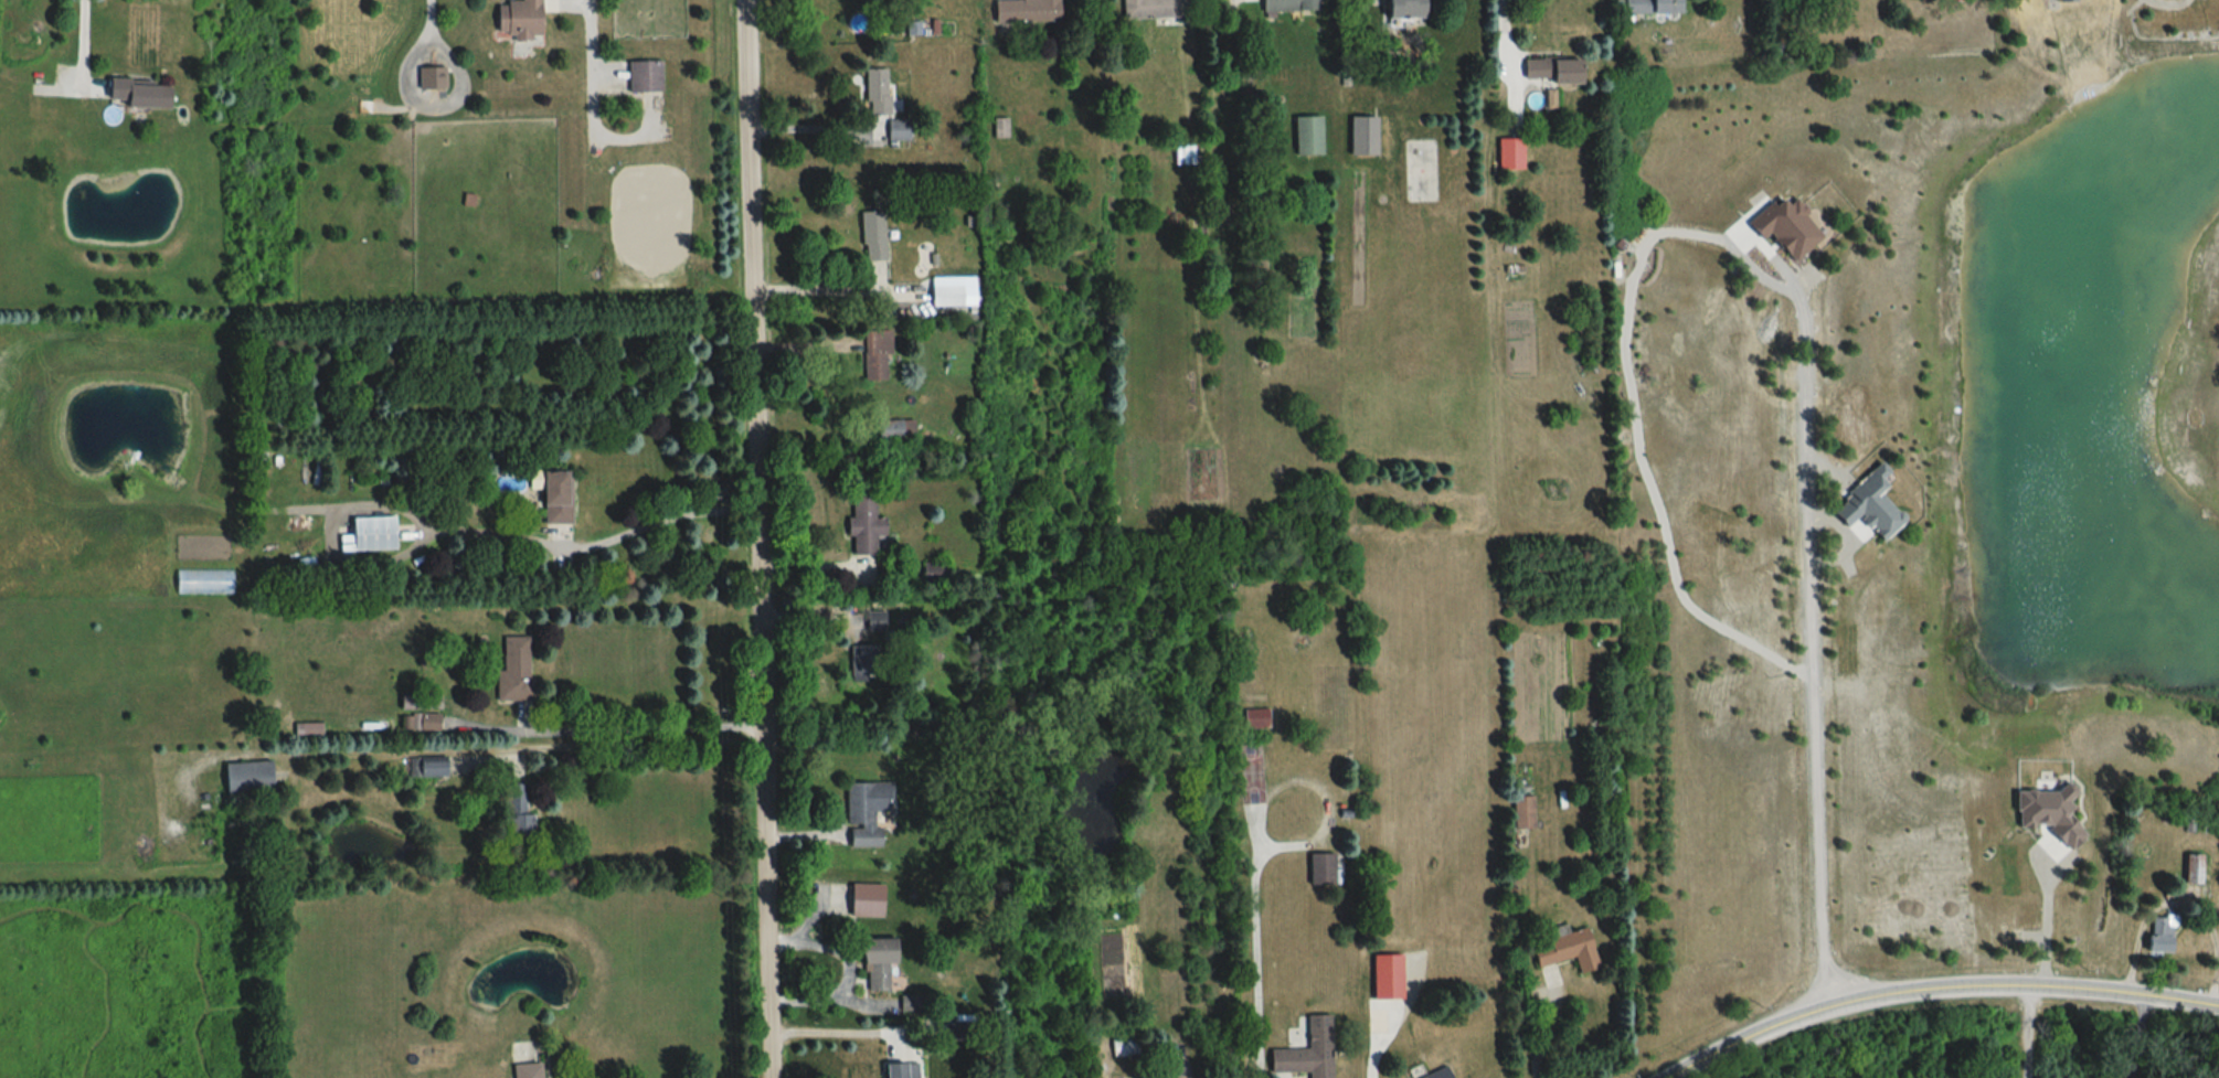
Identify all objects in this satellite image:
building: (1285, 7)
building: (1648, 7)
building: (1150, 9)
building: (1401, 9)
building: (1023, 11)
building: (516, 19)
road: (428, 22)
road: (1507, 39)
road: (83, 45)
building: (1548, 70)
building: (641, 76)
building: (433, 77)
building: (874, 90)
building: (131, 94)
road: (595, 105)
road: (804, 128)
building: (898, 136)
building: (1304, 136)
building: (1360, 136)
building: (1508, 153)
building: (1181, 154)
building: (870, 235)
road: (816, 290)
building: (944, 296)
building: (874, 355)
building: (893, 430)
building: (254, 458)
building: (553, 498)
building: (864, 526)
road: (464, 532)
building: (371, 534)
road: (756, 538)
building: (1298, 643)
road: (1813, 675)
building: (512, 679)
road: (640, 729)
road: (512, 751)
building: (245, 778)
building: (862, 808)
building: (1520, 813)
building: (2193, 869)
building: (858, 900)
road: (2050, 925)
building: (2155, 936)
building: (1564, 950)
building: (873, 962)
road: (849, 970)
building: (1384, 976)
crop: (121, 988)
road: (1939, 992)
road: (840, 1034)
road: (2026, 1034)
road: (1543, 1036)
road: (2135, 1038)
building: (1304, 1052)
road: (1371, 1053)
building: (894, 1070)
building: (525, 1071)
building: (1151, 1071)
building: (1435, 1074)

